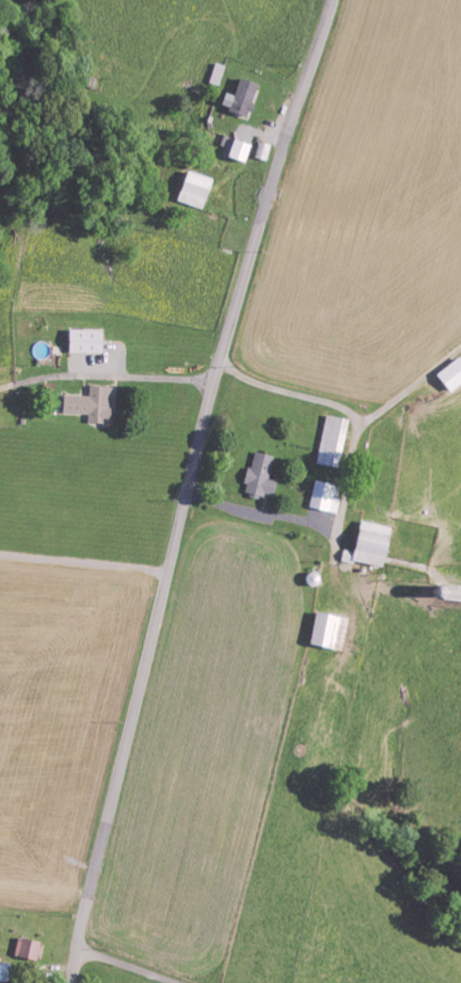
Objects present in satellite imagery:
building: (238, 98)
building: (238, 150)
building: (261, 151)
building: (192, 190)
building: (83, 341)
building: (450, 375)
building: (89, 405)
building: (330, 442)
building: (259, 476)
road: (189, 487)
building: (323, 498)
building: (367, 545)
building: (452, 594)
building: (327, 632)
building: (27, 950)
road: (122, 966)
building: (5, 973)

